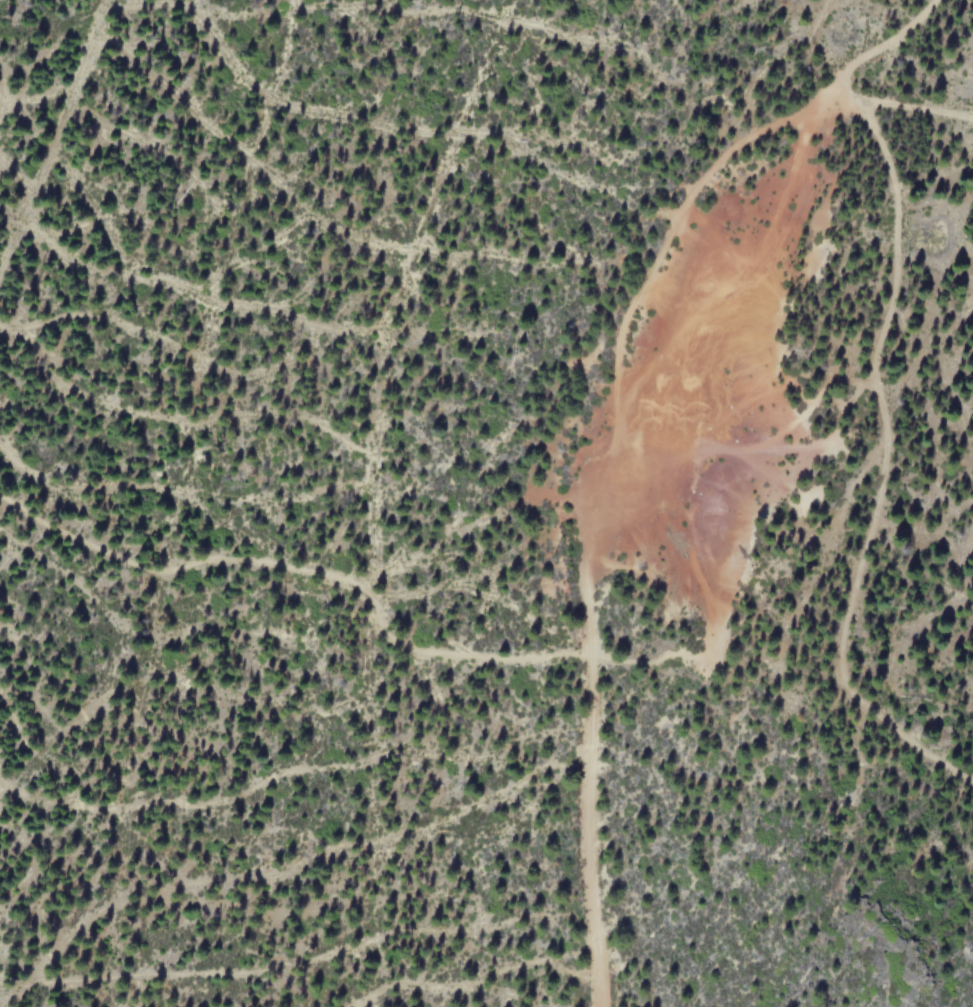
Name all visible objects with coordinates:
road: (915, 19)
quarry: (701, 383)
road: (593, 463)

